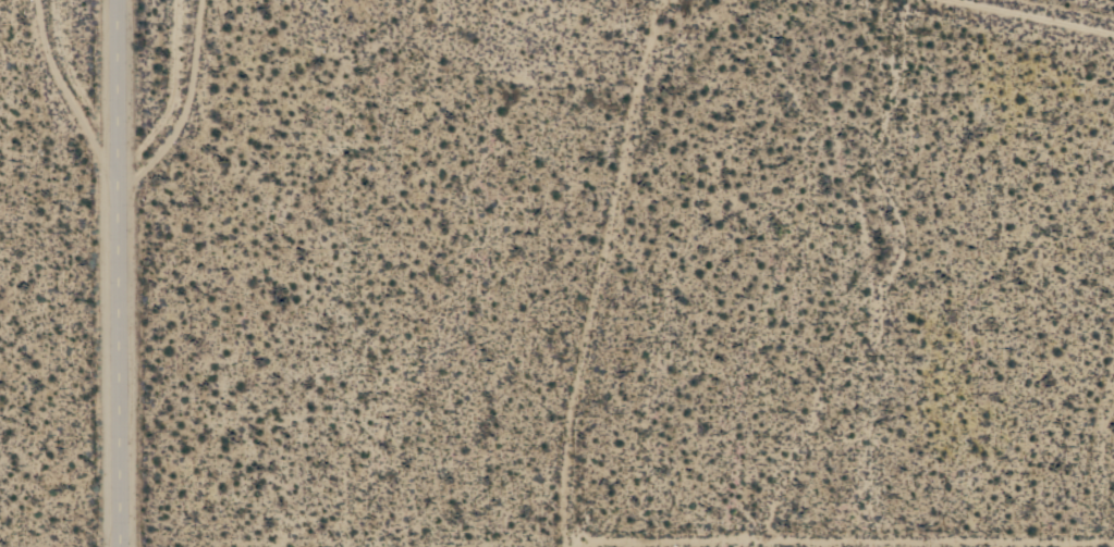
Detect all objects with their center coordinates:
road: (1051, 12)
road: (184, 105)
road: (600, 272)
road: (112, 273)
road: (842, 534)

